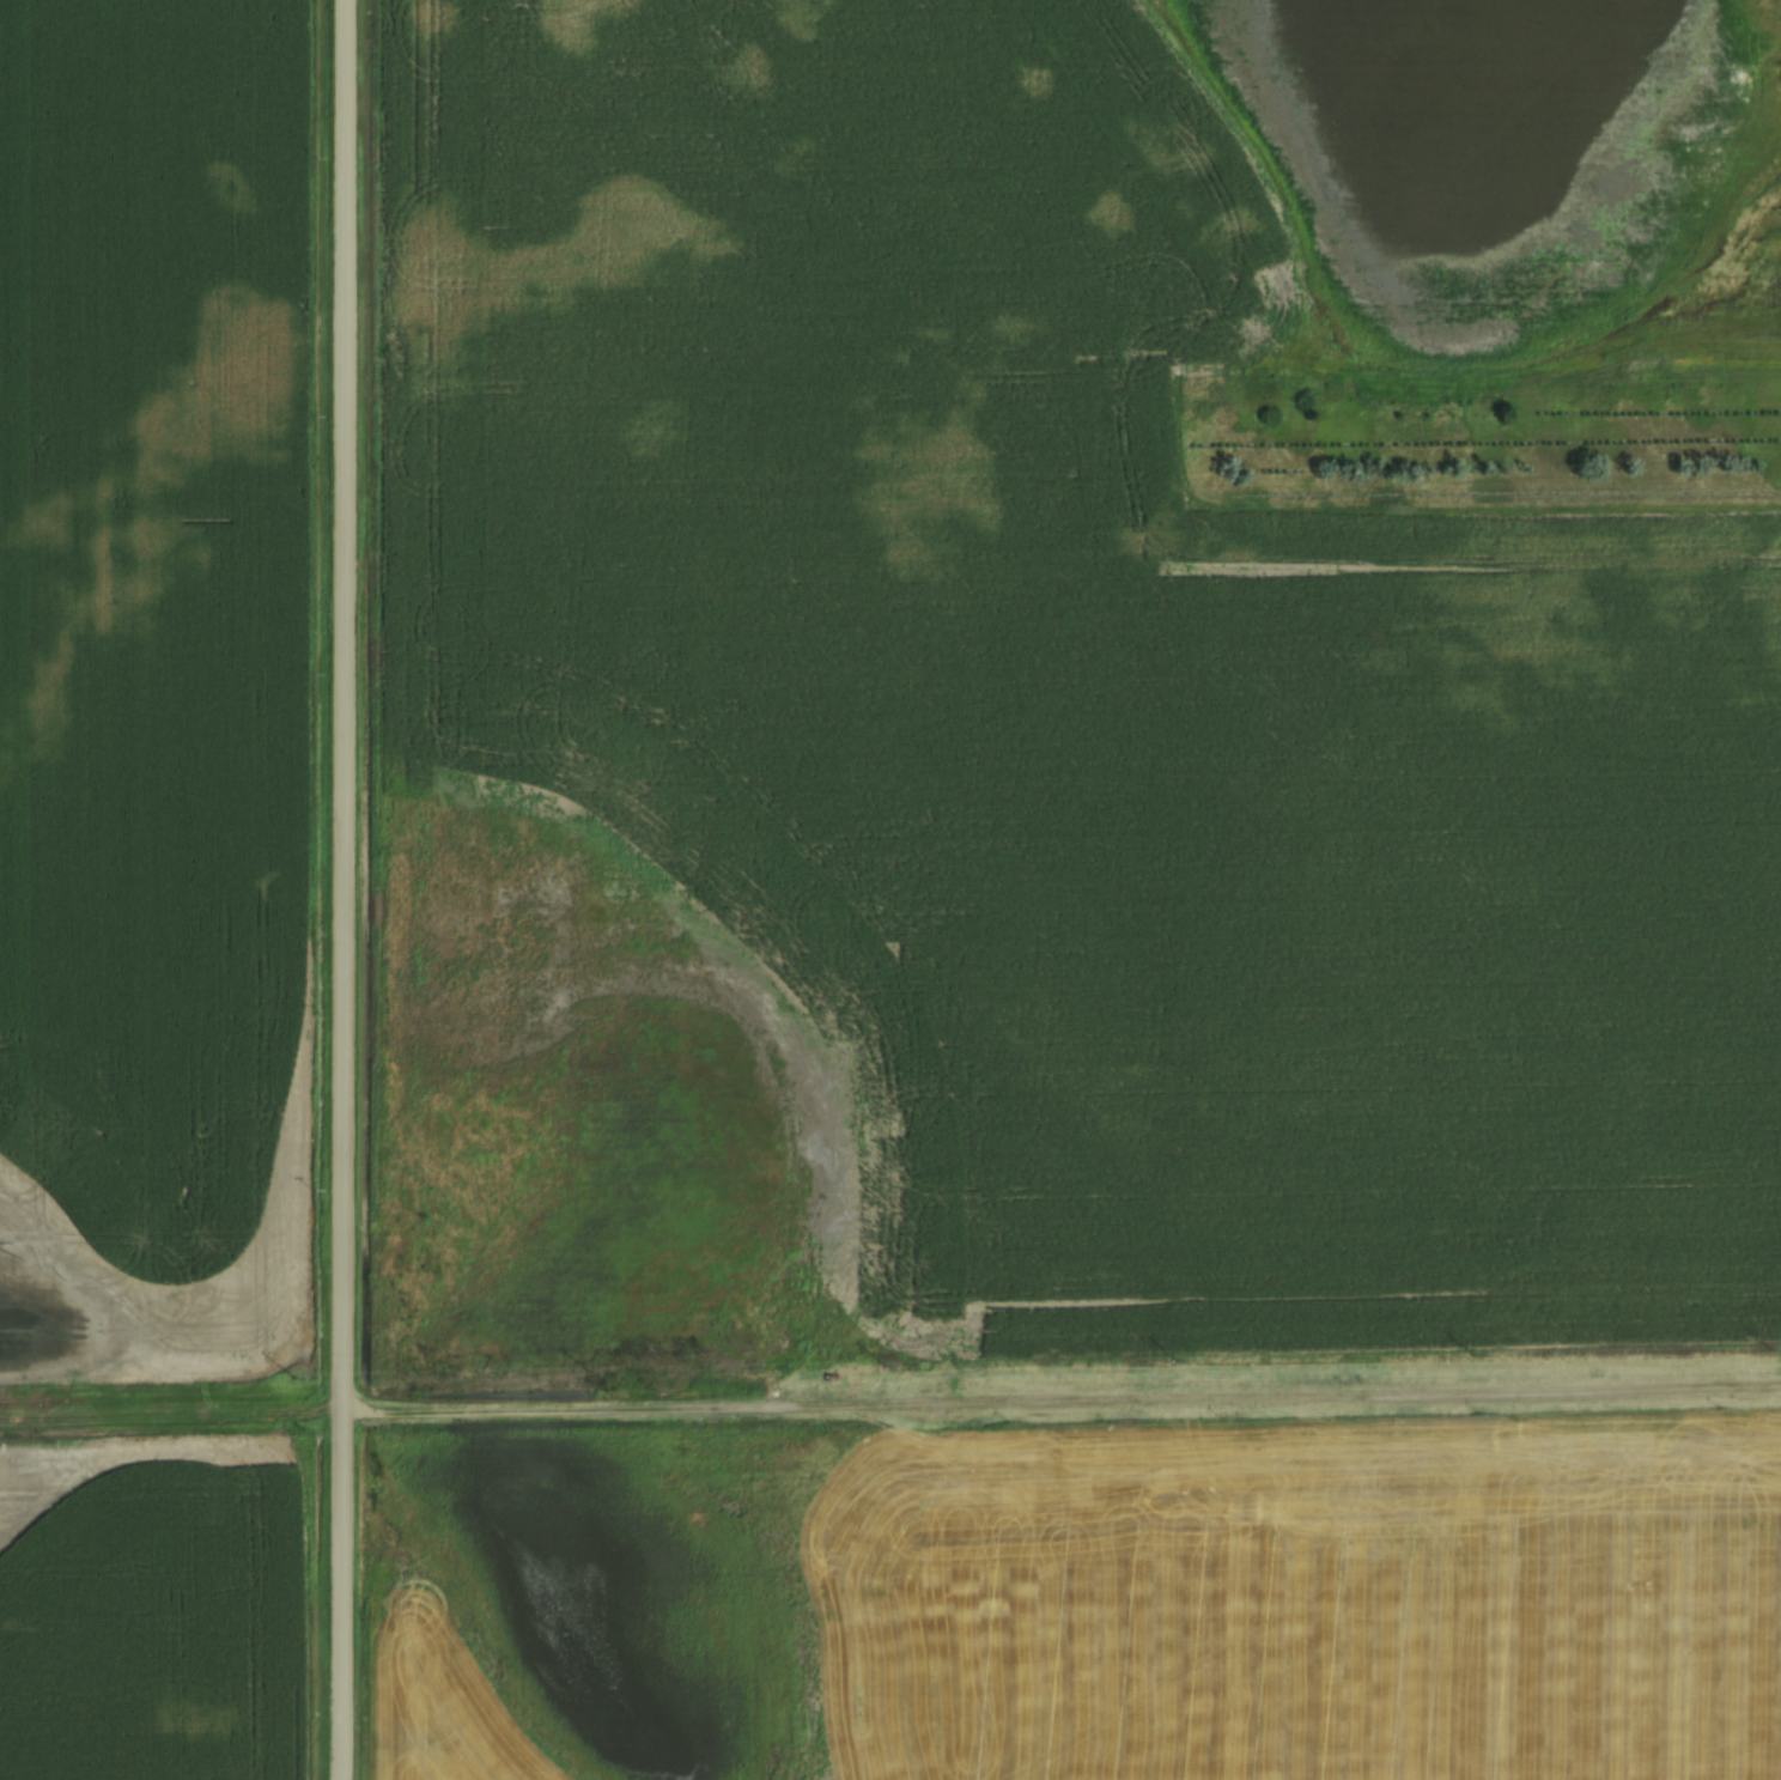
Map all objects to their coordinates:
road: (340, 889)
road: (891, 1420)

